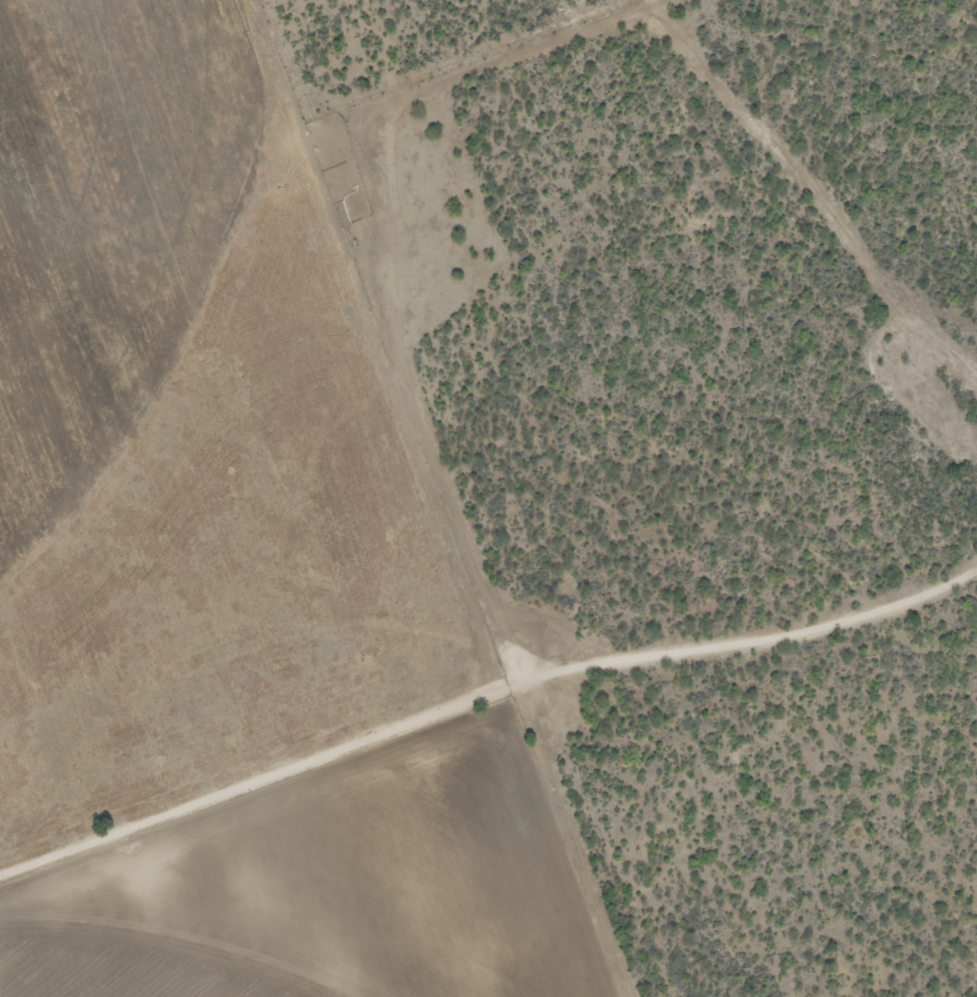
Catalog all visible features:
road: (807, 190)

